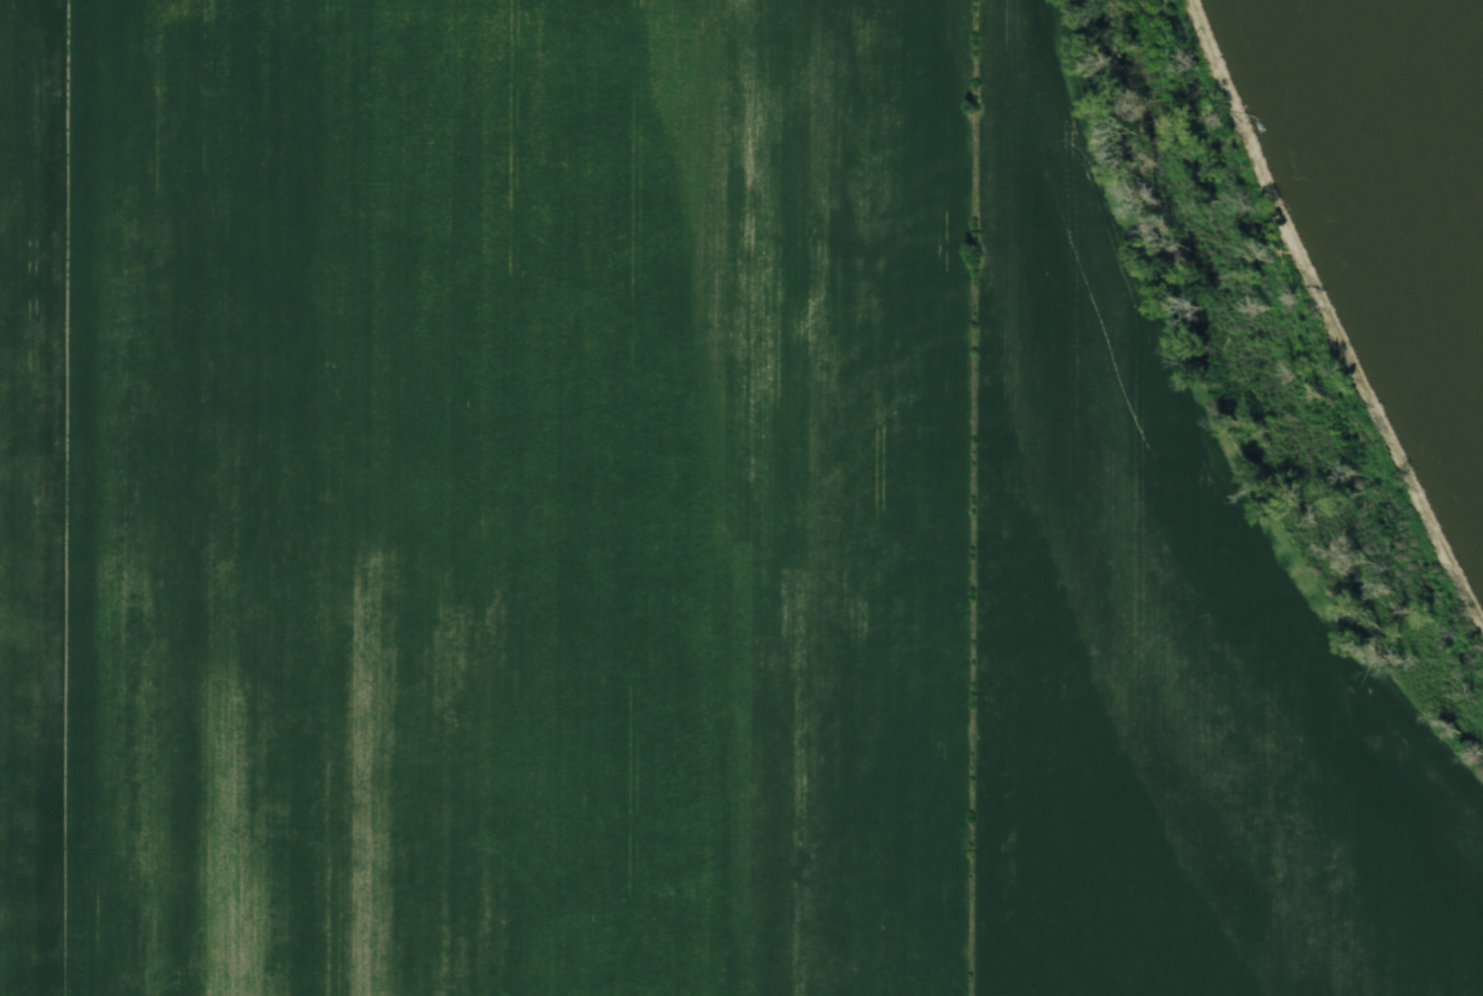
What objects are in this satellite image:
river: (1432, 100)

